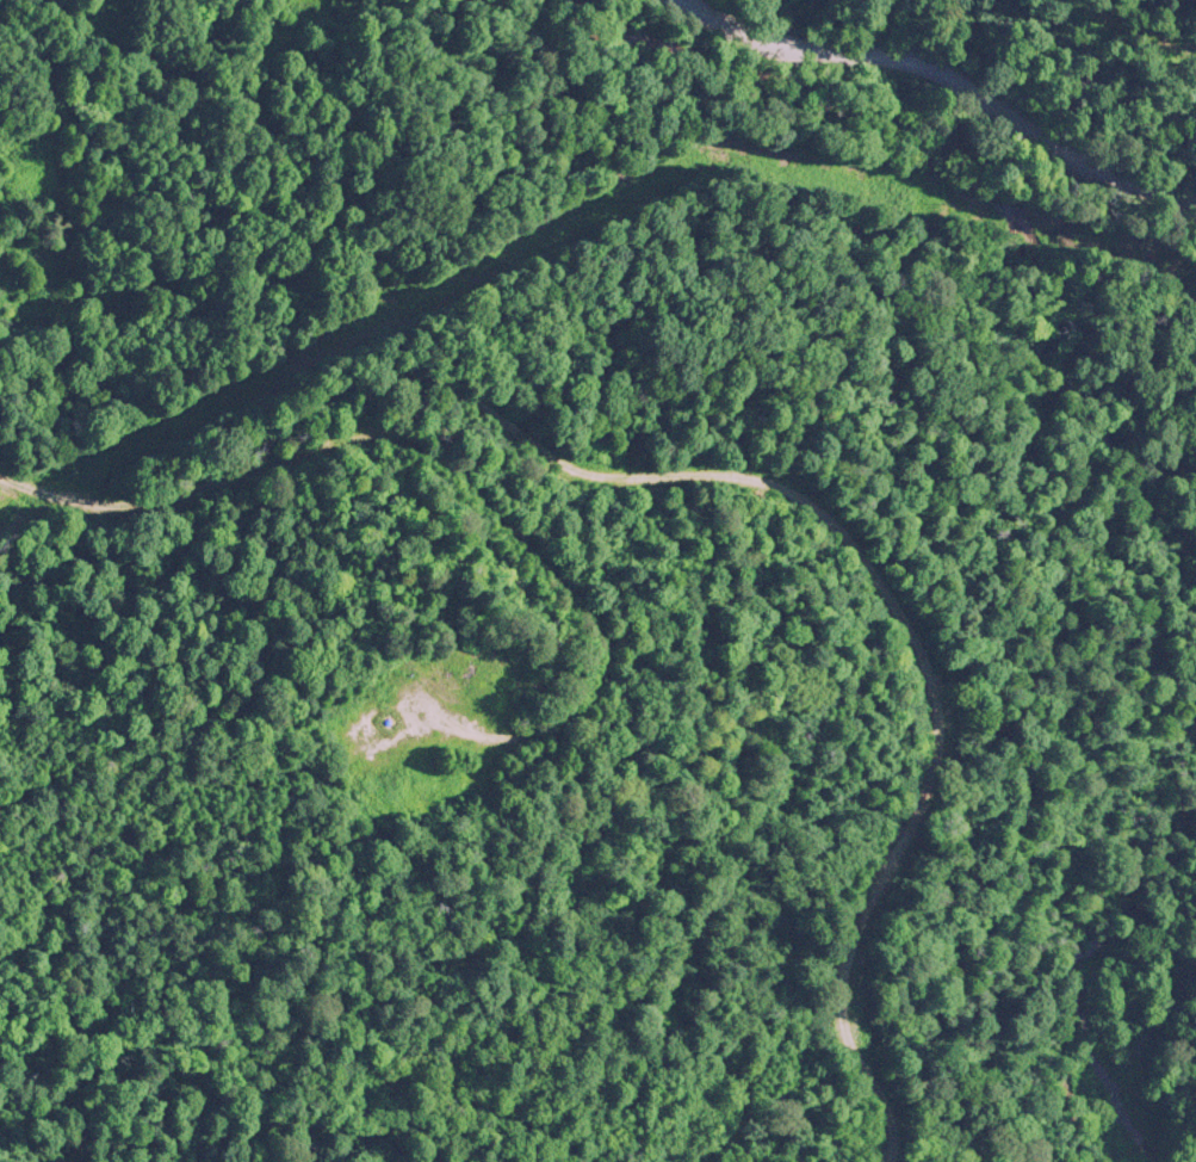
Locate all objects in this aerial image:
road: (958, 78)
railway: (831, 524)

